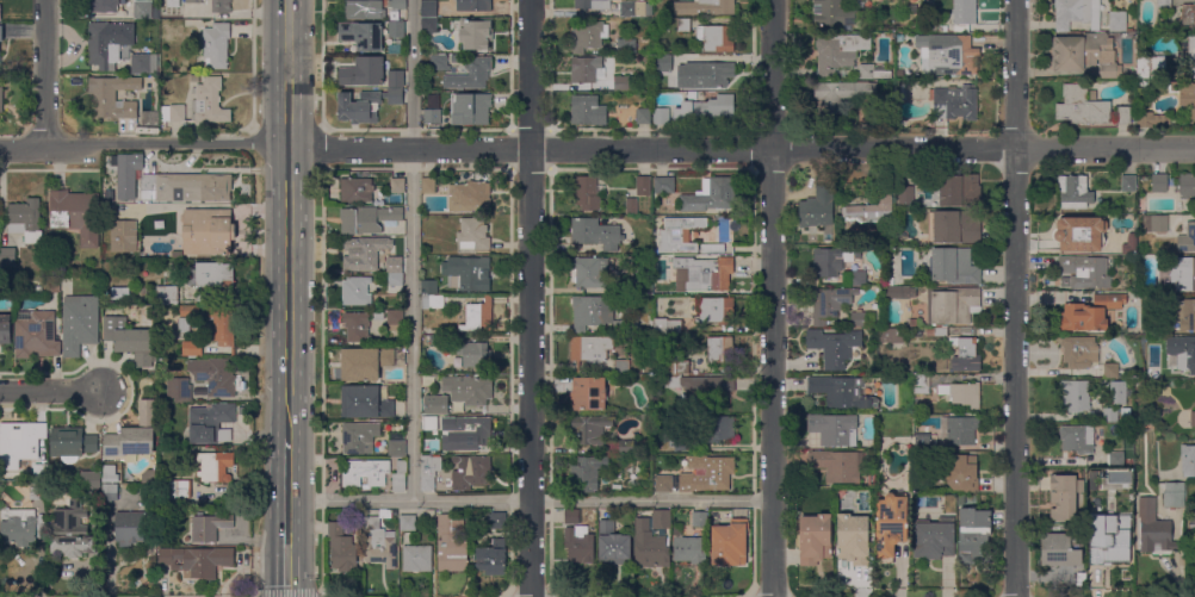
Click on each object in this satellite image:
building: (193, 1)
building: (173, 4)
building: (397, 4)
building: (473, 5)
building: (593, 5)
building: (1164, 5)
building: (103, 6)
building: (221, 6)
building: (705, 7)
building: (428, 8)
building: (142, 10)
building: (364, 10)
building: (632, 10)
building: (965, 12)
building: (832, 13)
building: (1077, 13)
building: (191, 15)
building: (1188, 15)
building: (336, 17)
building: (1117, 21)
building: (929, 24)
building: (155, 25)
building: (428, 25)
building: (683, 25)
building: (396, 30)
building: (475, 31)
building: (1, 33)
building: (363, 35)
building: (588, 35)
building: (716, 38)
building: (104, 45)
building: (216, 45)
building: (626, 46)
building: (687, 49)
building: (394, 50)
building: (838, 51)
building: (1079, 51)
building: (1188, 54)
building: (947, 55)
building: (456, 58)
building: (439, 62)
road: (321, 63)
building: (663, 63)
building: (144, 64)
building: (1151, 67)
building: (586, 69)
building: (1114, 70)
building: (364, 71)
building: (873, 71)
building: (899, 73)
road: (44, 74)
building: (471, 75)
building: (704, 75)
building: (194, 77)
building: (396, 79)
building: (619, 83)
building: (1183, 89)
building: (902, 91)
building: (842, 93)
building: (1092, 95)
building: (113, 97)
building: (1, 99)
building: (210, 101)
building: (954, 102)
building: (365, 105)
building: (1081, 106)
building: (705, 108)
building: (458, 111)
building: (587, 111)
building: (172, 113)
building: (1123, 114)
building: (644, 116)
building: (661, 116)
building: (1150, 119)
road: (320, 148)
road: (596, 150)
building: (1128, 182)
building: (1159, 182)
building: (396, 185)
building: (664, 185)
building: (428, 186)
building: (643, 186)
building: (1184, 186)
building: (184, 187)
building: (357, 189)
building: (959, 191)
building: (1075, 192)
building: (586, 193)
building: (906, 194)
building: (711, 195)
building: (465, 199)
building: (632, 206)
building: (817, 207)
building: (868, 213)
building: (76, 214)
road: (289, 218)
building: (367, 219)
building: (25, 220)
building: (1154, 224)
building: (953, 226)
building: (208, 231)
building: (1081, 232)
building: (473, 234)
building: (595, 234)
building: (677, 235)
building: (123, 236)
building: (890, 237)
building: (1187, 238)
building: (711, 248)
road: (411, 250)
building: (366, 254)
building: (177, 255)
building: (832, 260)
building: (7, 261)
building: (953, 266)
building: (590, 272)
building: (1086, 272)
building: (470, 273)
building: (1183, 273)
building: (702, 274)
building: (212, 278)
building: (855, 279)
building: (395, 284)
building: (52, 285)
building: (636, 285)
building: (427, 287)
building: (38, 290)
building: (355, 291)
building: (899, 293)
building: (167, 296)
road: (530, 298)
road: (772, 298)
road: (1015, 298)
building: (432, 301)
building: (830, 303)
building: (952, 305)
building: (190, 311)
building: (716, 311)
building: (1090, 313)
building: (1187, 313)
building: (479, 315)
building: (601, 315)
building: (378, 316)
building: (395, 317)
building: (862, 319)
building: (79, 324)
building: (184, 325)
building: (223, 325)
building: (357, 327)
building: (674, 327)
building: (5, 329)
building: (936, 331)
building: (36, 335)
building: (890, 335)
building: (436, 337)
building: (129, 340)
building: (834, 347)
building: (592, 348)
building: (192, 349)
building: (720, 349)
building: (1079, 352)
building: (475, 354)
building: (965, 354)
building: (1181, 354)
building: (364, 363)
building: (621, 366)
building: (676, 367)
building: (1110, 369)
building: (213, 375)
road: (322, 380)
building: (699, 385)
building: (921, 385)
building: (179, 388)
building: (469, 388)
road: (52, 392)
building: (841, 392)
building: (1119, 392)
building: (588, 393)
building: (962, 393)
building: (1076, 394)
building: (366, 402)
building: (436, 404)
building: (1110, 415)
building: (425, 418)
building: (1193, 418)
building: (210, 423)
building: (720, 428)
building: (834, 429)
building: (958, 430)
building: (473, 433)
building: (599, 434)
building: (134, 435)
building: (359, 437)
building: (1077, 439)
building: (20, 442)
building: (922, 442)
building: (72, 443)
building: (396, 444)
building: (445, 444)
building: (683, 444)
building: (922, 455)
building: (1116, 459)
building: (1188, 460)
building: (838, 465)
building: (215, 466)
building: (478, 469)
building: (428, 471)
building: (39, 472)
building: (958, 472)
building: (365, 473)
building: (586, 473)
building: (707, 473)
building: (400, 477)
building: (89, 479)
building: (871, 479)
building: (110, 483)
building: (663, 484)
building: (1175, 489)
building: (37, 490)
building: (172, 492)
building: (1065, 496)
building: (961, 499)
road: (530, 500)
building: (1174, 502)
building: (431, 514)
road: (287, 516)
building: (571, 517)
building: (661, 520)
building: (699, 520)
building: (496, 521)
building: (407, 522)
building: (21, 526)
building: (891, 526)
building: (210, 527)
building: (130, 528)
building: (1154, 528)
building: (1191, 529)
building: (73, 531)
building: (973, 536)
building: (815, 539)
building: (853, 539)
building: (934, 539)
building: (380, 540)
building: (1108, 541)
building: (729, 543)
building: (578, 545)
building: (613, 545)
building: (451, 546)
building: (650, 546)
building: (687, 547)
building: (342, 548)
building: (1061, 549)
building: (417, 558)
building: (491, 559)
building: (196, 560)
building: (1078, 578)
road: (296, 595)

